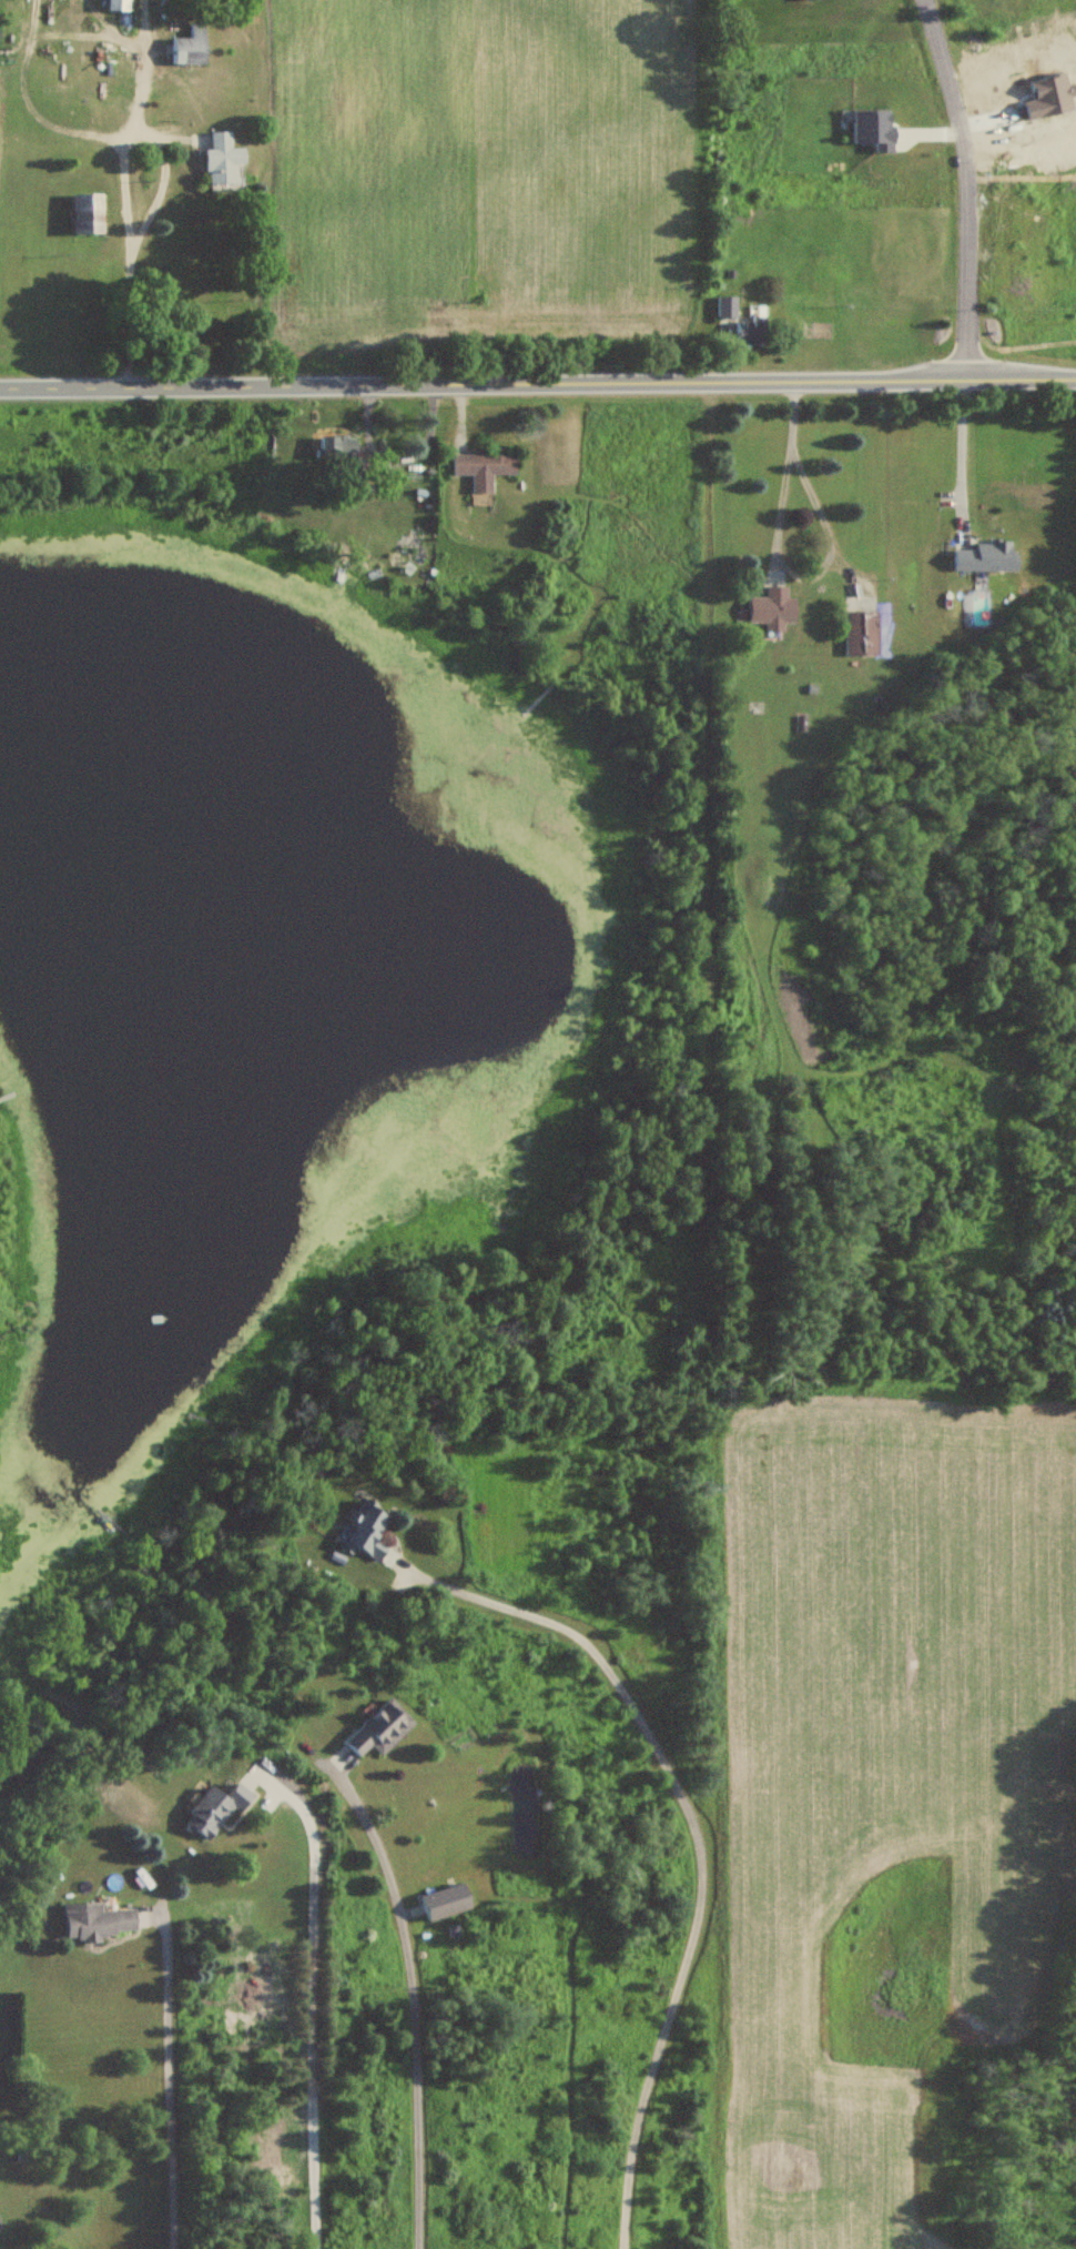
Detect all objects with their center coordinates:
building: (116, 6)
building: (190, 48)
building: (222, 161)
road: (124, 186)
road: (963, 189)
building: (85, 214)
building: (742, 323)
road: (537, 385)
road: (960, 442)
building: (339, 458)
building: (480, 470)
building: (985, 558)
road: (780, 559)
building: (771, 609)
building: (861, 634)
building: (367, 1532)
building: (380, 1729)
building: (215, 1809)
road: (697, 1834)
building: (97, 1923)
road: (309, 2004)
road: (414, 2004)
road: (166, 2081)

